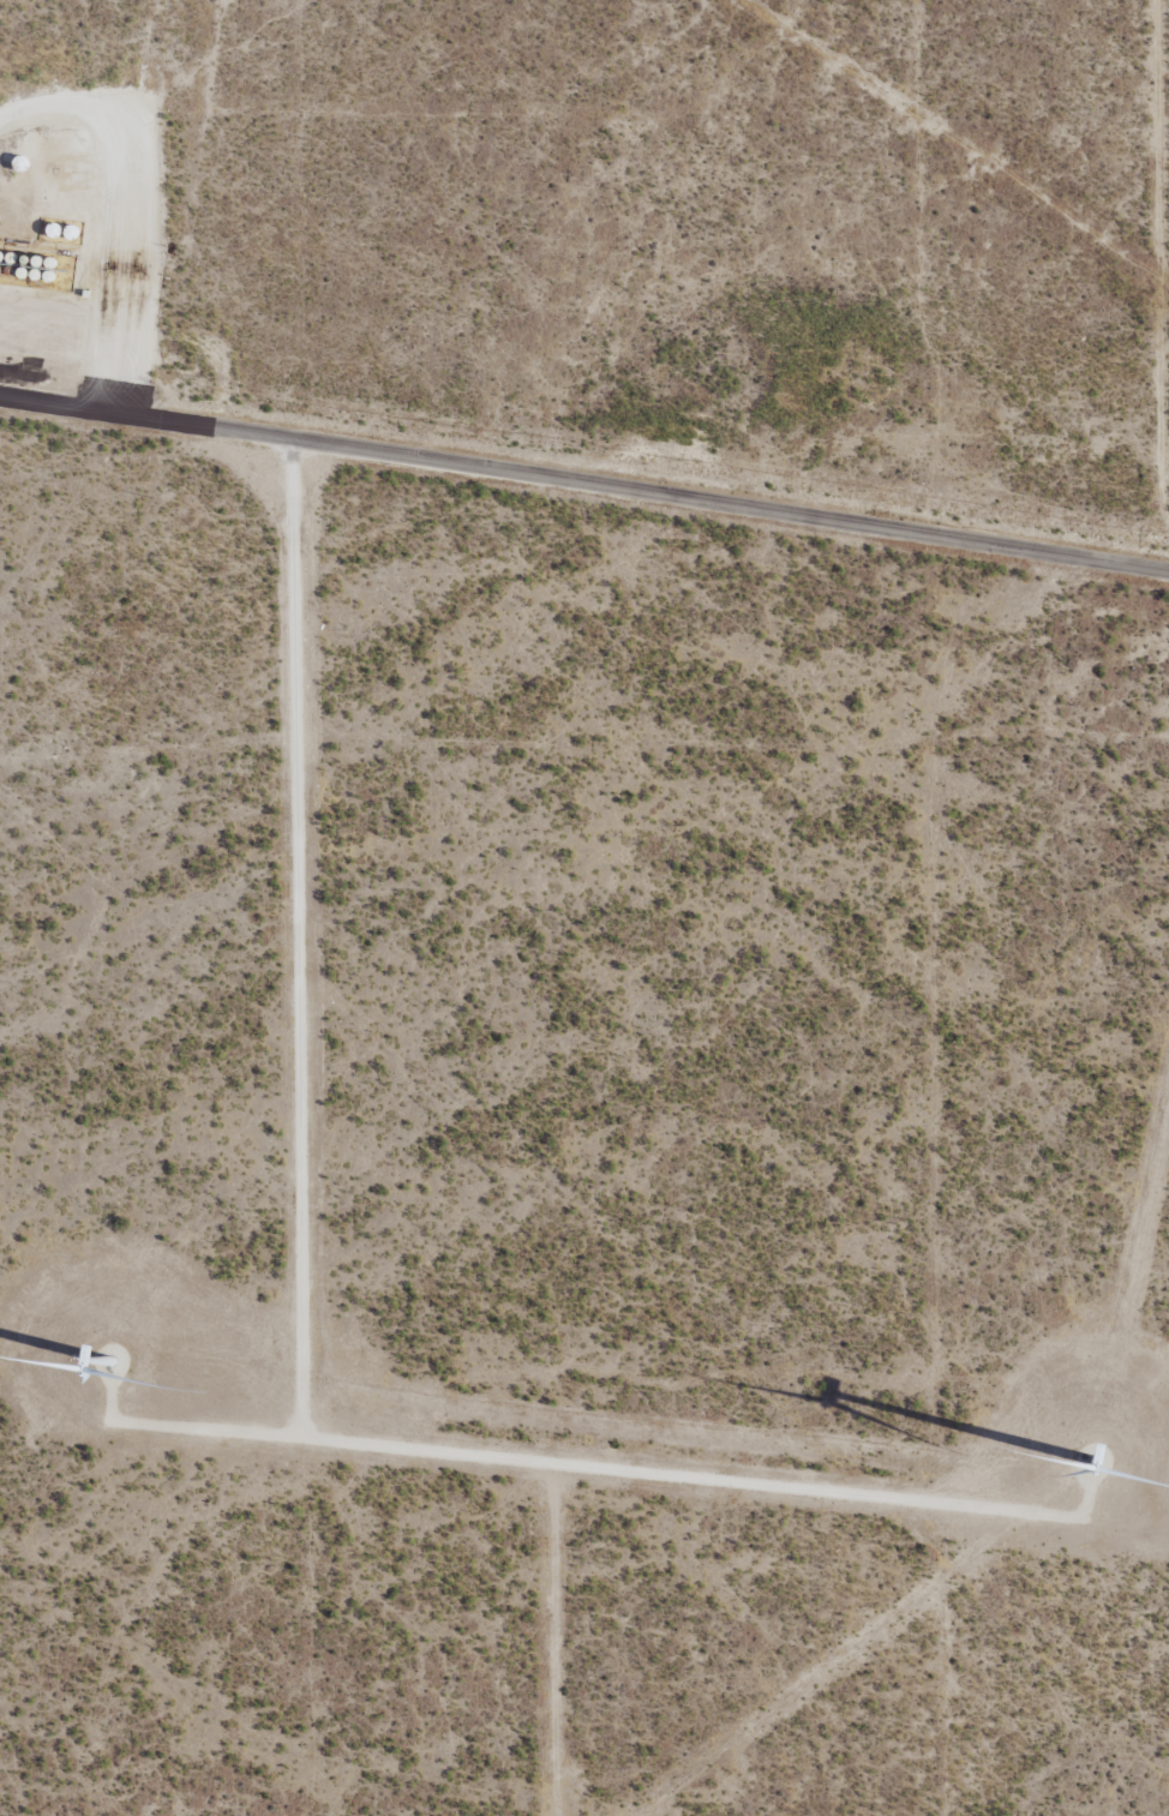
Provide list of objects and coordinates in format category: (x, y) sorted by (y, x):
road: (1146, 258)
road: (584, 467)
road: (1162, 547)
wind turbine: (83, 1350)
wind turbine: (1072, 1461)

